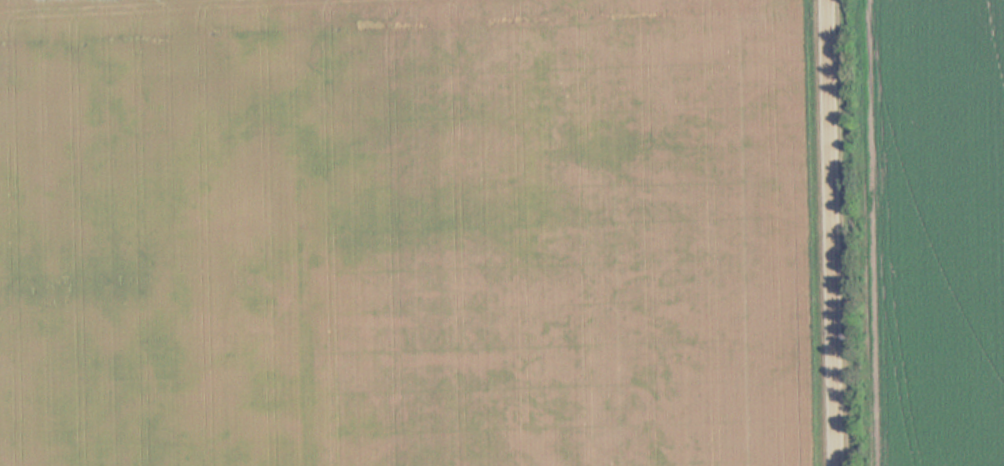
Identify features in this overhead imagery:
road: (830, 233)

